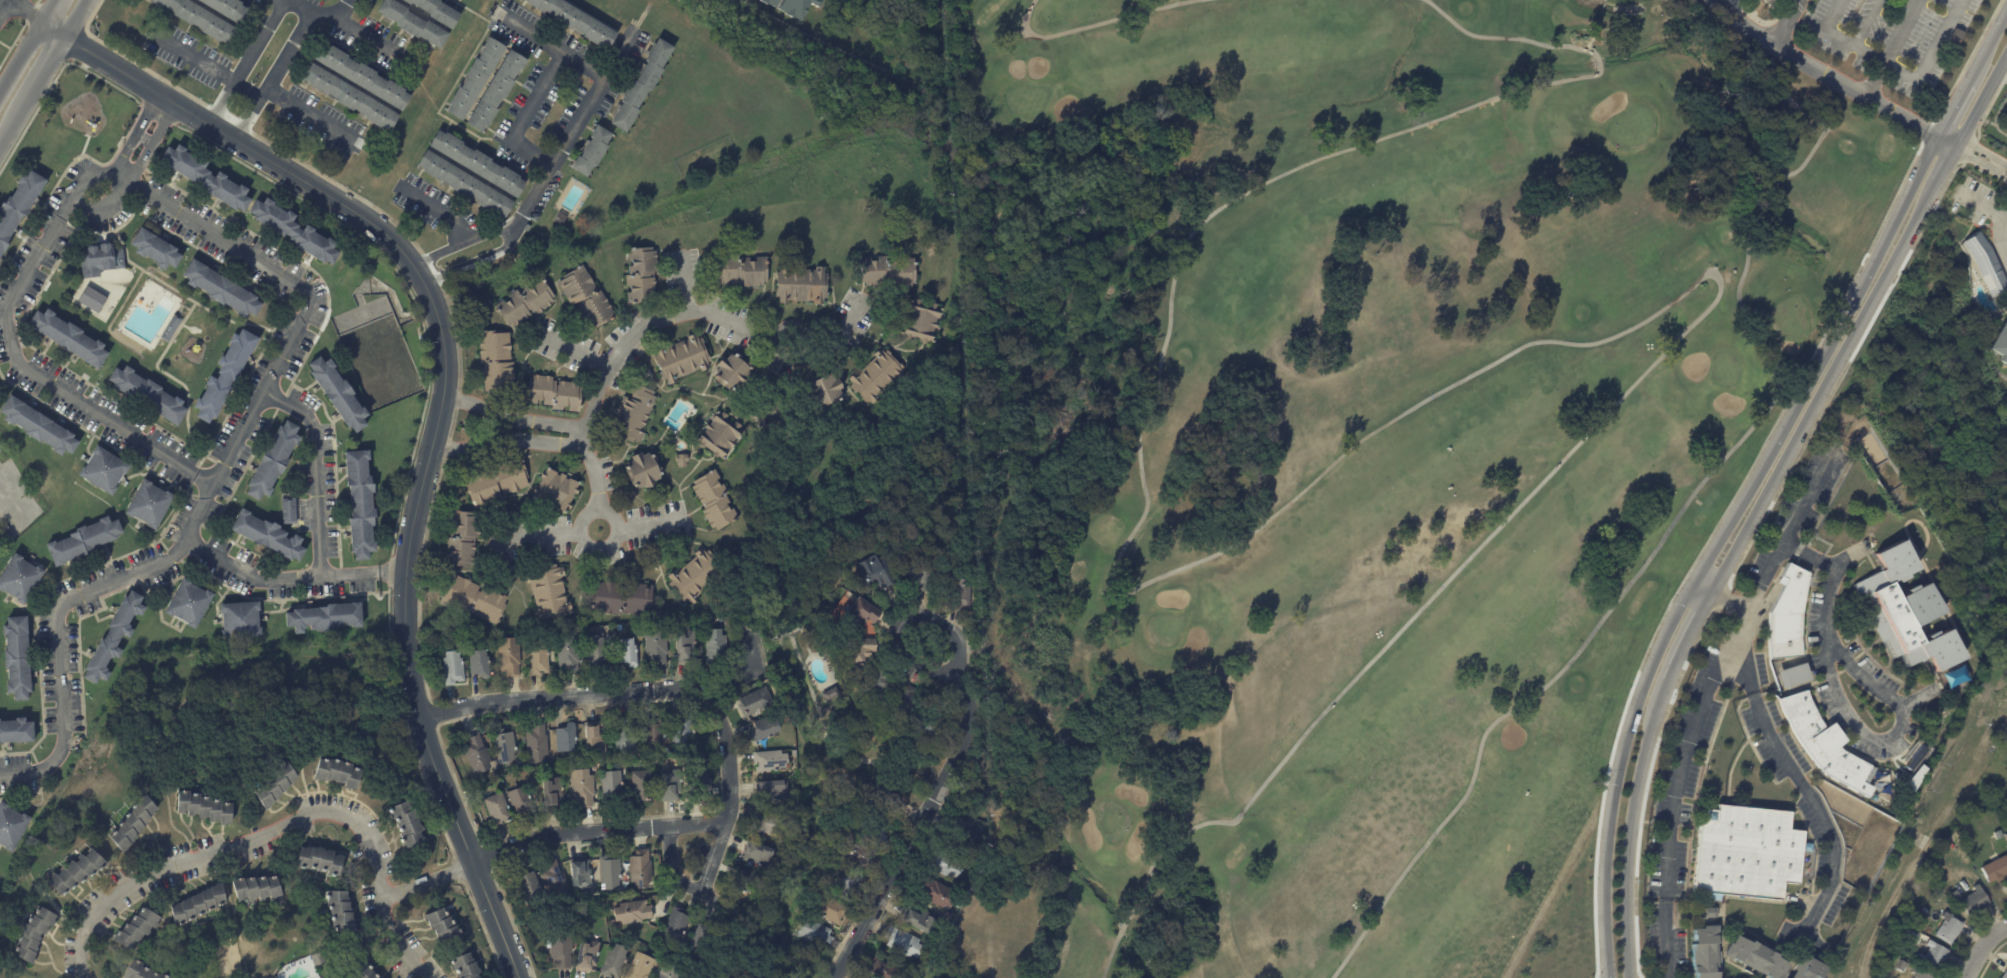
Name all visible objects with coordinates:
building: (768, 2)
road: (3, 6)
building: (795, 7)
building: (225, 8)
building: (435, 10)
road: (26, 12)
road: (49, 12)
road: (319, 14)
road: (1830, 15)
building: (196, 18)
road: (75, 20)
building: (574, 20)
building: (410, 21)
road: (1789, 22)
road: (1745, 23)
road: (1094, 24)
road: (1864, 25)
road: (1715, 35)
parking lot: (1896, 37)
road: (372, 40)
road: (1836, 40)
road: (552, 45)
road: (1989, 45)
road: (1890, 48)
road: (21, 61)
road: (247, 63)
road: (205, 65)
road: (1919, 71)
road: (42, 76)
road: (272, 76)
building: (360, 77)
building: (472, 78)
building: (640, 86)
building: (493, 91)
building: (52, 92)
road: (1857, 92)
building: (347, 97)
park: (1026, 100)
road: (1981, 102)
road: (1955, 108)
road: (313, 116)
road: (523, 116)
road: (576, 123)
road: (10, 130)
road: (134, 134)
road: (1948, 143)
road: (151, 144)
building: (591, 151)
road: (1982, 161)
building: (475, 165)
road: (1947, 166)
building: (205, 178)
building: (463, 185)
building: (18, 204)
road: (1980, 204)
road: (103, 207)
road: (438, 209)
road: (516, 223)
building: (292, 231)
road: (1998, 235)
road: (460, 243)
building: (154, 249)
building: (99, 259)
road: (472, 262)
building: (1984, 264)
building: (738, 270)
building: (888, 272)
building: (640, 275)
road: (686, 282)
building: (800, 285)
building: (220, 289)
building: (586, 298)
building: (91, 299)
building: (523, 302)
road: (671, 317)
park: (1789, 317)
building: (920, 320)
building: (169, 328)
building: (68, 338)
building: (1999, 343)
road: (575, 352)
road: (15, 355)
building: (680, 359)
building: (494, 361)
park: (1724, 368)
building: (639, 369)
building: (730, 371)
building: (224, 375)
building: (875, 376)
road: (1824, 389)
building: (822, 392)
building: (337, 393)
building: (554, 393)
building: (146, 394)
road: (471, 403)
road: (442, 407)
building: (632, 412)
road: (541, 422)
building: (37, 425)
road: (494, 426)
building: (717, 433)
road: (1370, 434)
road: (538, 441)
park: (1356, 447)
road: (464, 448)
building: (679, 459)
building: (272, 461)
building: (103, 469)
building: (643, 469)
road: (314, 470)
road: (215, 478)
building: (496, 483)
building: (555, 490)
building: (713, 501)
building: (148, 504)
building: (359, 504)
road: (10, 505)
building: (287, 511)
road: (612, 516)
road: (1675, 518)
road: (652, 525)
building: (7, 527)
road: (1787, 532)
building: (266, 535)
road: (539, 537)
building: (461, 539)
building: (83, 540)
road: (1719, 541)
building: (878, 573)
building: (694, 575)
building: (922, 576)
building: (19, 578)
road: (290, 578)
road: (1703, 589)
building: (548, 592)
building: (957, 595)
building: (621, 599)
building: (474, 600)
building: (187, 603)
building: (739, 610)
building: (862, 612)
building: (1905, 612)
building: (1788, 615)
building: (323, 617)
building: (238, 620)
road: (904, 620)
park: (1164, 628)
building: (113, 637)
road: (1687, 638)
building: (683, 645)
building: (655, 648)
building: (714, 649)
building: (857, 651)
building: (595, 654)
building: (625, 654)
building: (566, 656)
building: (15, 658)
building: (507, 658)
building: (537, 660)
building: (479, 664)
building: (451, 669)
building: (1794, 677)
building: (875, 684)
road: (627, 692)
building: (830, 694)
building: (907, 701)
building: (753, 702)
building: (933, 710)
road: (1845, 713)
building: (927, 728)
building: (763, 730)
building: (16, 731)
building: (681, 732)
building: (651, 734)
building: (624, 737)
building: (565, 739)
building: (594, 739)
building: (535, 745)
building: (505, 746)
building: (1826, 746)
building: (475, 755)
road: (1784, 756)
building: (768, 761)
building: (335, 772)
building: (668, 784)
building: (269, 785)
building: (701, 785)
building: (611, 787)
building: (640, 787)
building: (581, 790)
building: (771, 792)
building: (550, 794)
road: (1674, 796)
building: (882, 800)
building: (518, 802)
building: (1882, 803)
building: (202, 806)
building: (497, 810)
park: (1111, 815)
building: (131, 821)
building: (408, 823)
building: (770, 825)
building: (9, 826)
building: (866, 826)
road: (916, 829)
road: (1631, 829)
road: (271, 830)
road: (601, 832)
building: (962, 832)
building: (1748, 853)
building: (857, 854)
building: (761, 857)
road: (717, 858)
building: (319, 859)
building: (944, 866)
building: (639, 870)
building: (75, 871)
building: (1996, 871)
building: (609, 874)
road: (674, 876)
building: (579, 877)
building: (842, 881)
road: (427, 882)
building: (745, 883)
building: (555, 884)
building: (526, 886)
building: (255, 888)
building: (938, 895)
building: (1975, 902)
building: (196, 904)
building: (831, 909)
building: (342, 914)
building: (630, 914)
building: (1708, 914)
building: (1921, 917)
building: (919, 922)
building: (446, 926)
building: (673, 927)
building: (135, 928)
building: (1949, 929)
building: (31, 933)
building: (813, 934)
building: (697, 940)
building: (906, 946)
road: (1983, 949)
building: (560, 950)
building: (1706, 953)
building: (586, 956)
building: (1935, 958)
building: (316, 959)
building: (1756, 959)
building: (612, 963)
building: (463, 966)
building: (639, 967)
building: (1808, 969)
building: (359, 970)
building: (137, 971)
building: (881, 971)
building: (668, 972)
building: (1898, 972)
building: (1919, 974)
building: (2005, 975)

